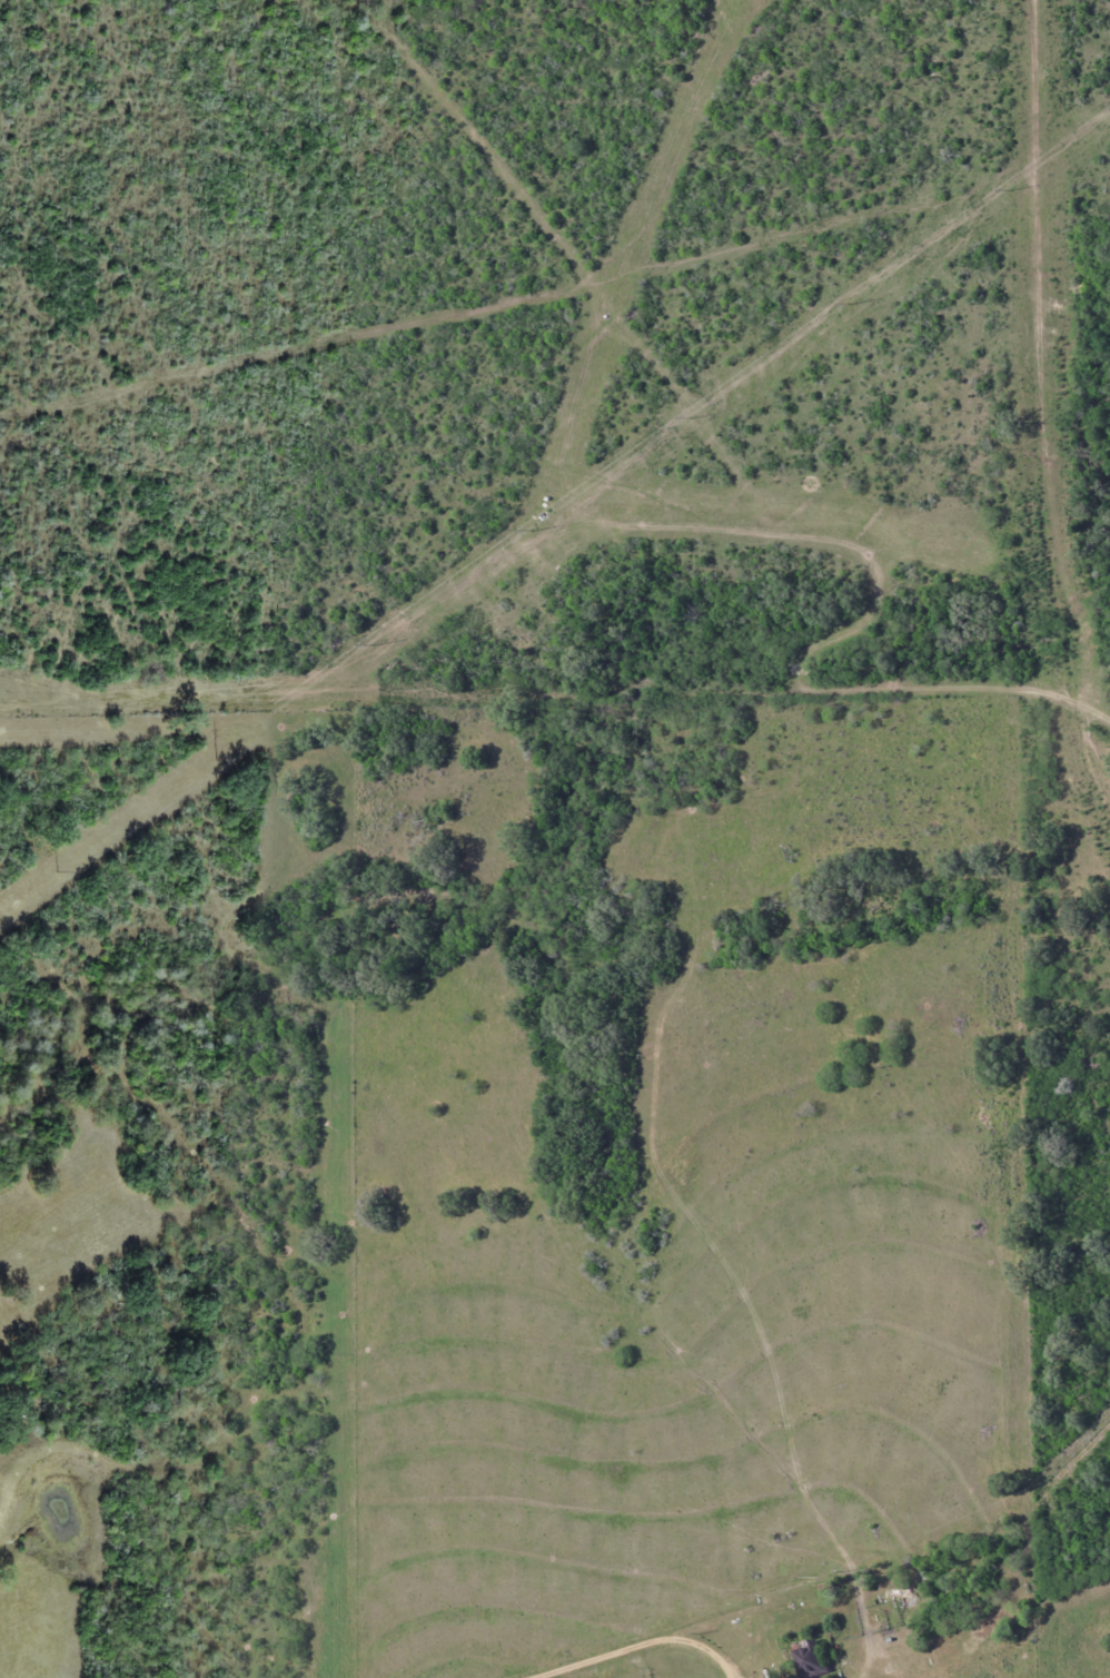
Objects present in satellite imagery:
road: (896, 6)
road: (482, 60)

